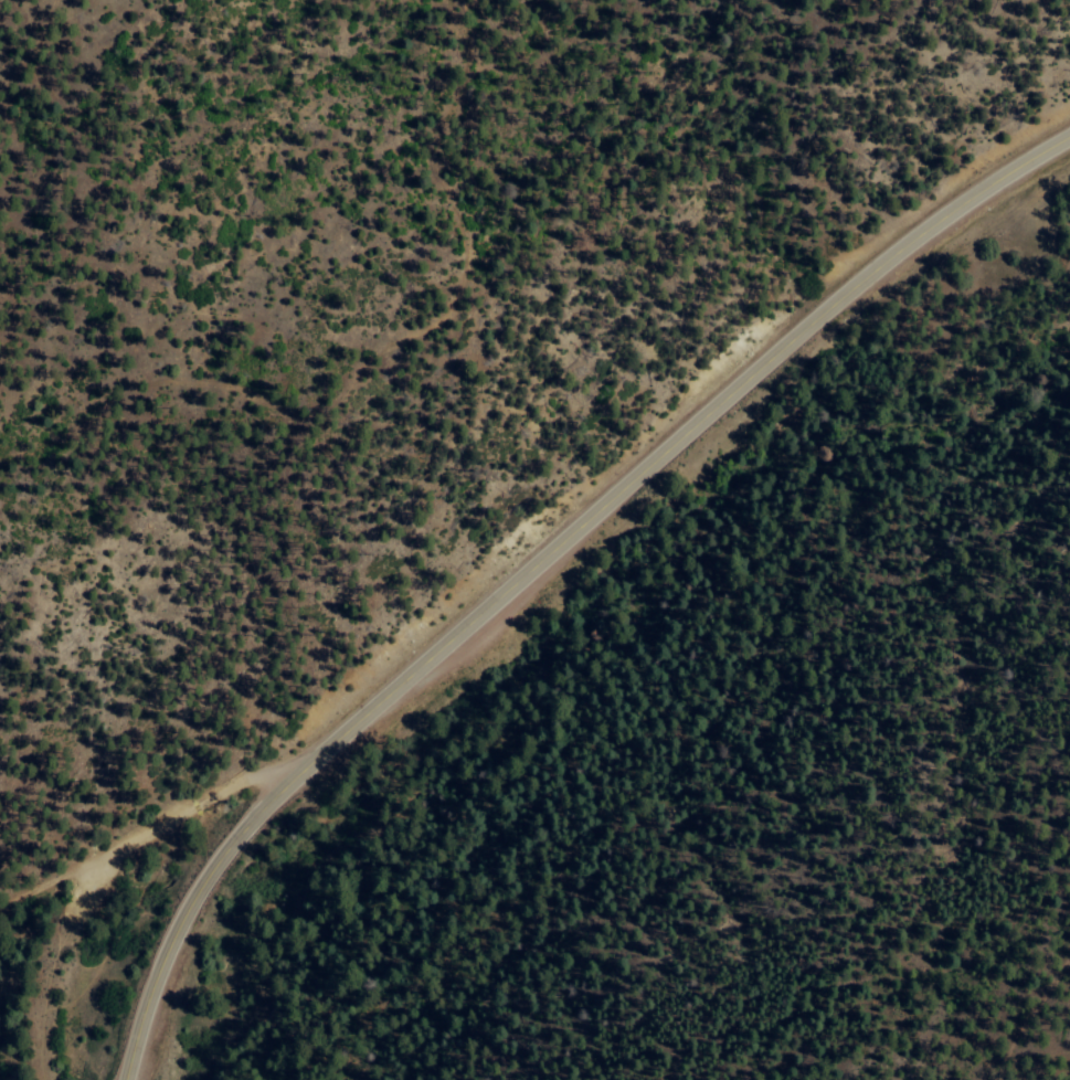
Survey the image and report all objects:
road: (351, 314)
road: (537, 559)
road: (150, 822)

